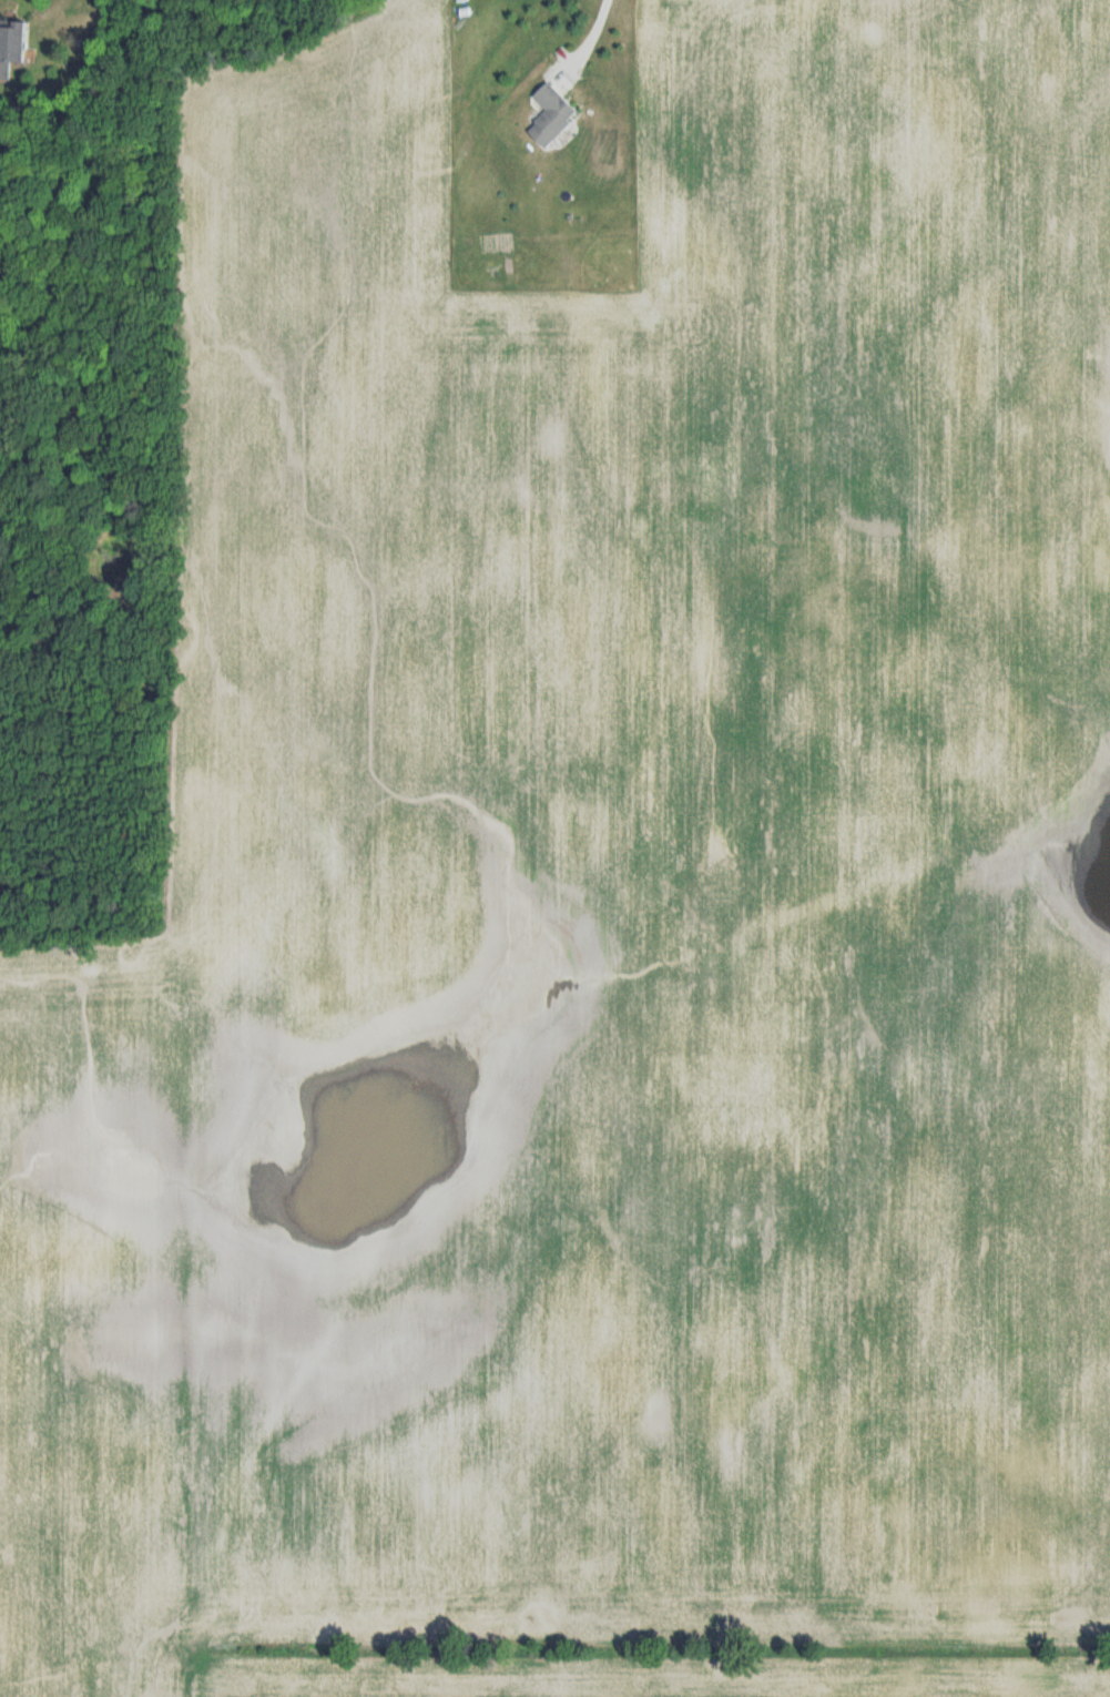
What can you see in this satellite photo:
road: (588, 40)
building: (12, 48)
building: (553, 116)

